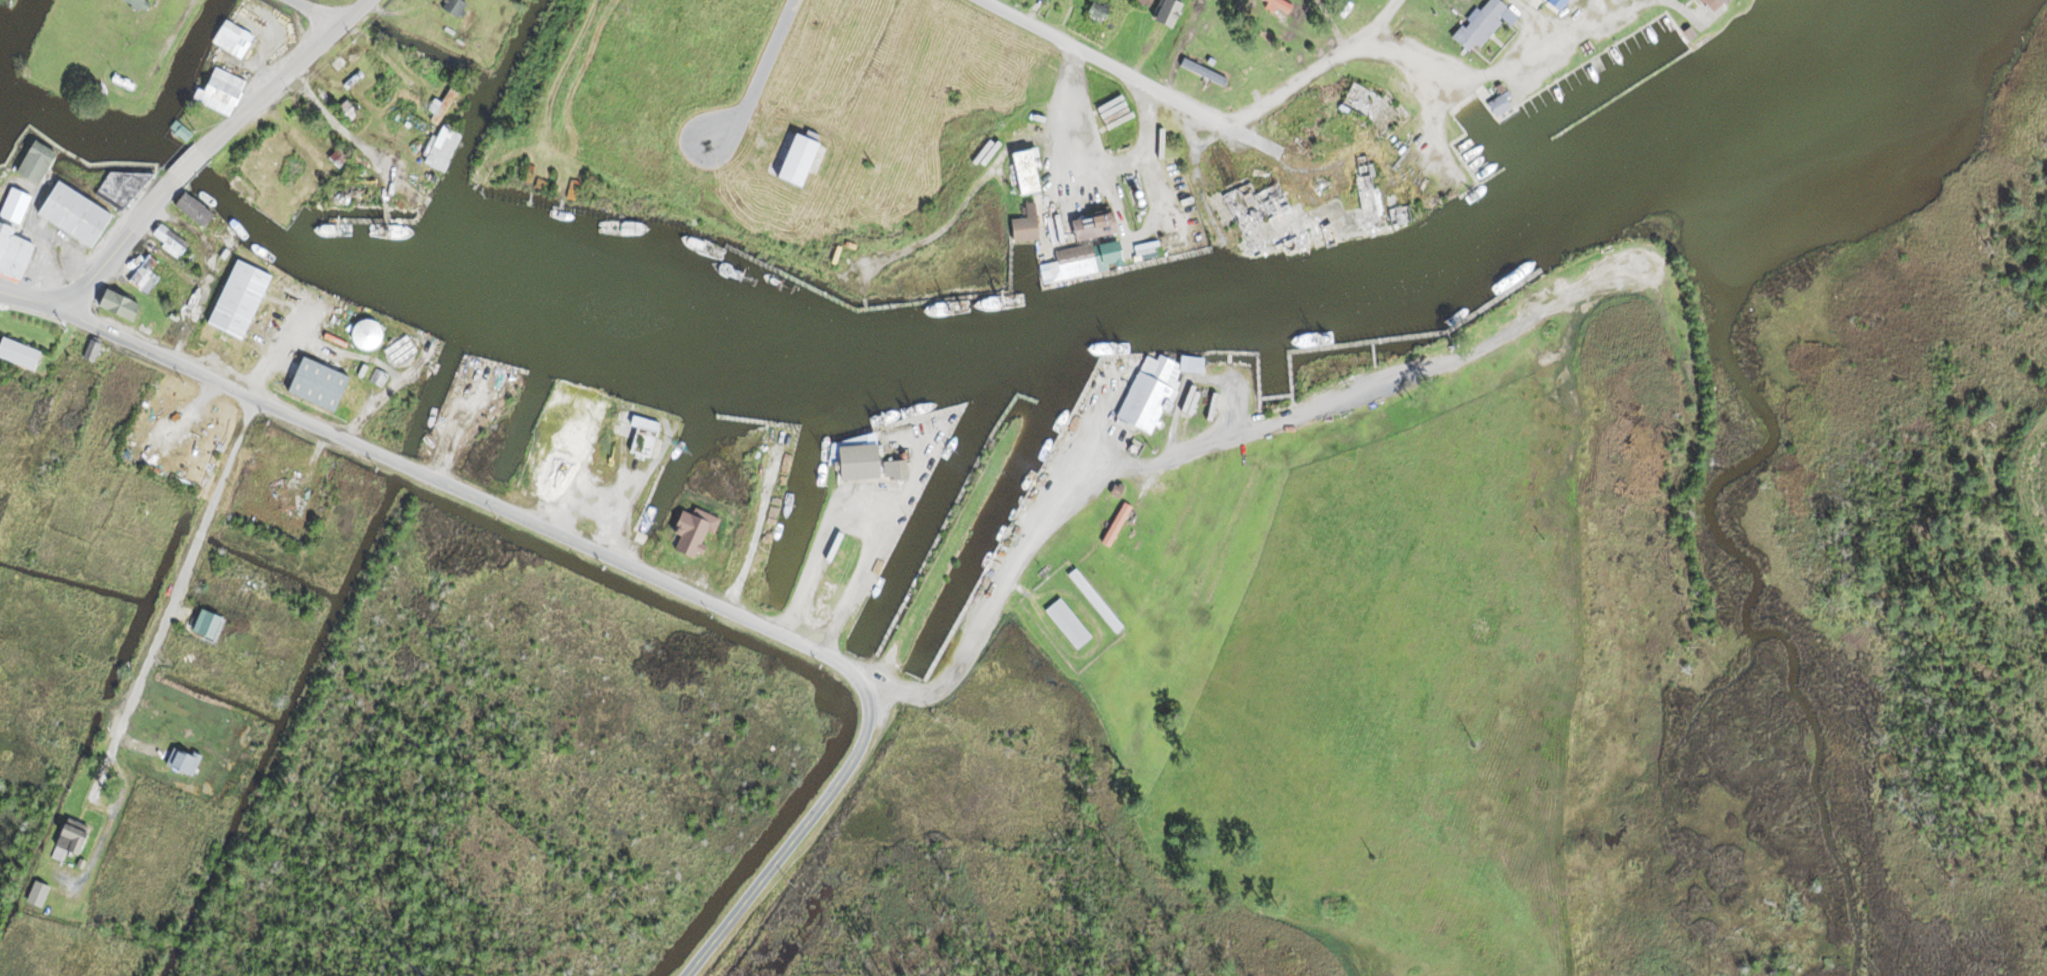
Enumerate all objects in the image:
building: (1145, 1)
building: (138, 3)
building: (1711, 4)
building: (1278, 5)
building: (455, 6)
building: (1545, 6)
building: (1196, 9)
building: (1167, 11)
building: (1432, 12)
road: (312, 13)
road: (351, 15)
road: (1387, 24)
building: (1480, 24)
road: (1334, 25)
building: (232, 38)
road: (1073, 50)
road: (1383, 50)
building: (1203, 70)
road: (760, 76)
building: (225, 80)
road: (268, 90)
building: (443, 104)
building: (1498, 104)
building: (347, 109)
building: (338, 155)
road: (187, 163)
road: (1082, 163)
building: (1025, 171)
building: (122, 184)
building: (1366, 197)
building: (193, 208)
building: (73, 213)
building: (1399, 215)
building: (1272, 222)
building: (1025, 223)
building: (1094, 226)
building: (13, 235)
building: (168, 239)
building: (1084, 257)
road: (99, 265)
building: (144, 274)
building: (118, 303)
building: (365, 333)
building: (399, 347)
building: (91, 349)
building: (18, 352)
building: (378, 376)
building: (317, 382)
building: (1153, 390)
building: (639, 427)
building: (857, 461)
building: (894, 469)
road: (459, 493)
building: (1116, 523)
building: (694, 533)
road: (184, 569)
building: (1094, 598)
building: (1067, 622)
building: (207, 624)
road: (950, 666)
building: (182, 759)
road: (795, 834)
building: (69, 837)

